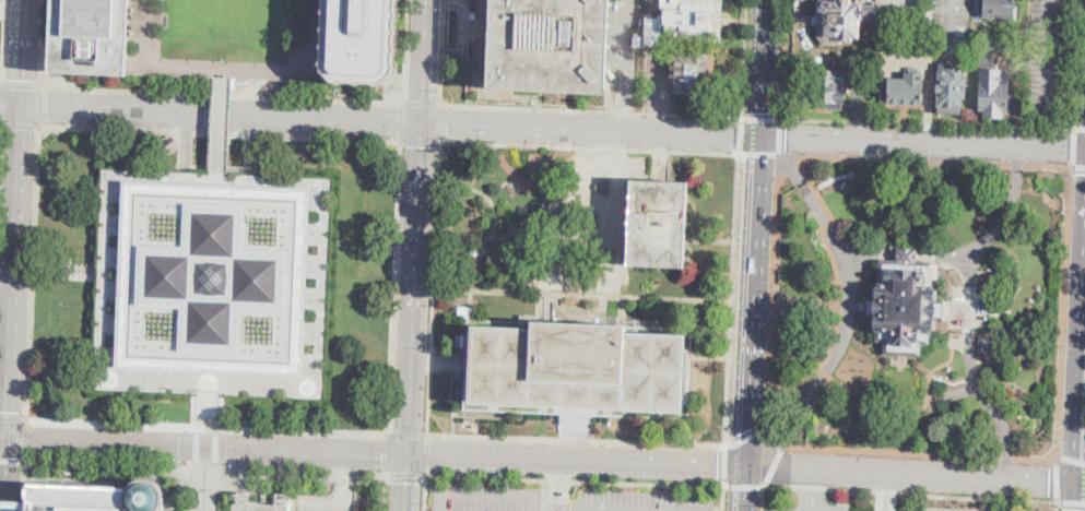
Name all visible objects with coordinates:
road: (457, 1)
parking lot: (893, 2)
road: (2, 8)
building: (1000, 8)
road: (487, 11)
parking lot: (634, 11)
road: (948, 17)
building: (689, 19)
building: (840, 19)
road: (463, 20)
parking lot: (947, 20)
road: (483, 21)
building: (920, 21)
parking lot: (225, 26)
road: (150, 33)
building: (882, 33)
road: (461, 34)
road: (483, 35)
building: (91, 36)
road: (311, 36)
building: (361, 39)
road: (2, 41)
road: (40, 43)
building: (551, 46)
road: (405, 50)
road: (453, 50)
road: (441, 51)
road: (22, 54)
road: (1048, 55)
parking lot: (1046, 57)
road: (744, 58)
parking lot: (906, 58)
road: (906, 58)
building: (984, 58)
road: (782, 59)
road: (424, 62)
road: (1076, 63)
road: (625, 66)
road: (766, 69)
road: (228, 70)
building: (693, 71)
building: (856, 80)
road: (483, 81)
parking lot: (632, 81)
road: (1, 84)
road: (657, 84)
parking lot: (659, 84)
road: (21, 85)
building: (829, 87)
building: (908, 88)
building: (951, 88)
building: (993, 92)
road: (221, 94)
road: (526, 95)
road: (610, 95)
road: (928, 99)
road: (536, 100)
road: (422, 102)
road: (1, 103)
road: (39, 106)
road: (10, 107)
traffic signals: (20, 108)
road: (591, 110)
road: (208, 111)
road: (115, 112)
road: (760, 118)
road: (316, 120)
road: (402, 120)
road: (222, 121)
road: (443, 121)
road: (0, 122)
road: (925, 122)
road: (654, 123)
road: (20, 124)
traffic signals: (422, 124)
road: (1078, 128)
road: (220, 131)
road: (591, 131)
road: (741, 135)
road: (779, 135)
road: (0, 138)
road: (421, 139)
traffic signals: (763, 139)
road: (249, 141)
road: (923, 141)
road: (184, 143)
road: (623, 144)
road: (591, 145)
road: (1072, 147)
road: (759, 154)
road: (788, 155)
road: (934, 161)
road: (788, 165)
road: (1077, 167)
road: (802, 168)
building: (604, 187)
road: (823, 201)
road: (496, 212)
road: (1003, 222)
building: (658, 223)
road: (827, 226)
parking lot: (582, 230)
road: (710, 240)
road: (8, 252)
road: (863, 253)
road: (909, 254)
road: (56, 270)
road: (838, 270)
road: (971, 270)
road: (31, 272)
road: (14, 273)
parking lot: (213, 283)
building: (214, 283)
road: (7, 284)
road: (394, 286)
road: (436, 288)
road: (415, 290)
road: (583, 296)
road: (732, 299)
road: (774, 300)
road: (754, 302)
building: (906, 302)
building: (809, 304)
road: (809, 306)
park: (919, 306)
parking lot: (970, 307)
road: (848, 308)
road: (850, 308)
road: (860, 308)
building: (468, 310)
road: (1062, 313)
road: (970, 317)
building: (1003, 326)
road: (835, 336)
road: (1083, 352)
building: (574, 370)
road: (936, 370)
road: (825, 373)
road: (1080, 380)
road: (953, 395)
road: (815, 404)
road: (205, 411)
road: (553, 412)
road: (994, 412)
road: (469, 414)
road: (12, 419)
road: (205, 427)
road: (408, 433)
road: (776, 436)
road: (746, 437)
road: (791, 437)
road: (4, 438)
traffic signals: (10, 439)
road: (24, 439)
road: (576, 441)
road: (103, 442)
road: (197, 443)
road: (216, 444)
building: (967, 444)
road: (303, 452)
road: (919, 453)
road: (388, 454)
road: (428, 455)
traffic signals: (410, 457)
road: (11, 459)
road: (1069, 462)
road: (577, 463)
road: (196, 464)
road: (771, 464)
road: (215, 465)
road: (723, 465)
road: (204, 468)
traffic signals: (746, 468)
road: (8, 470)
road: (341, 473)
road: (352, 474)
road: (406, 475)
road: (910, 477)
road: (574, 480)
road: (1054, 480)
road: (408, 484)
road: (23, 485)
road: (742, 485)
traffic signals: (1076, 485)
road: (1081, 485)
road: (553, 487)
road: (568, 488)
road: (745, 489)
road: (204, 490)
road: (810, 490)
road: (262, 491)
road: (386, 492)
road: (425, 492)
road: (885, 492)
road: (909, 492)
building: (561, 495)
building: (101, 496)
road: (490, 496)
building: (245, 497)
road: (1075, 497)
building: (283, 498)
road: (722, 498)
road: (762, 498)
parking lot: (565, 499)
road: (1071, 500)
road: (441, 502)
road: (535, 504)
road: (8, 506)
building: (14, 506)
parking lot: (935, 506)
road: (1055, 506)
parking lot: (823, 507)
road: (328, 508)
road: (7, 510)
road: (602, 510)

